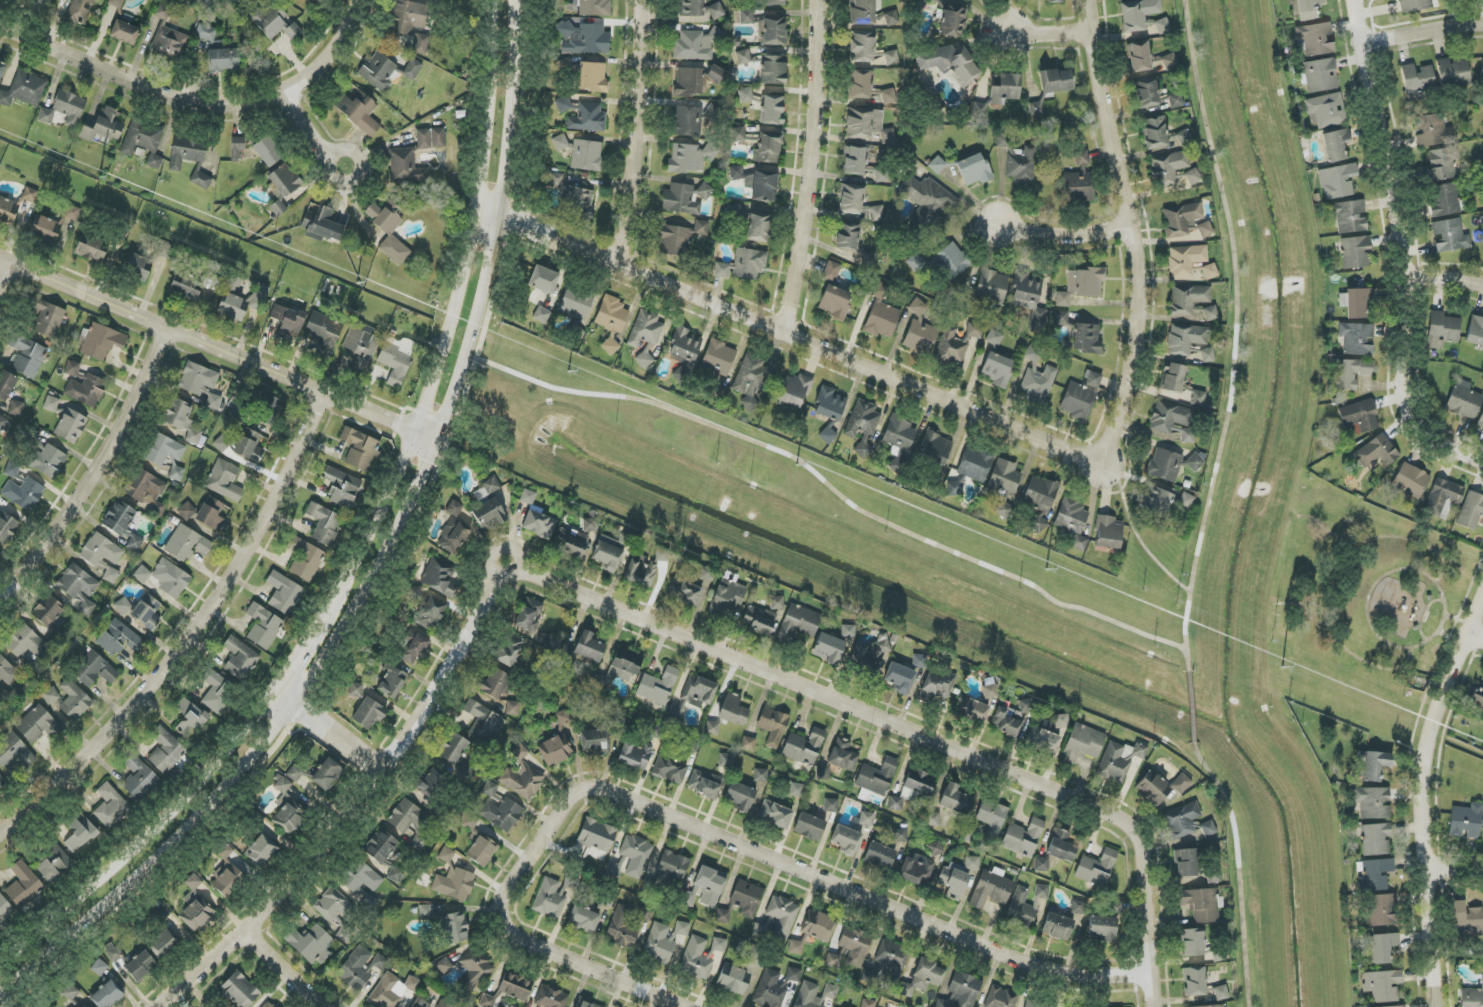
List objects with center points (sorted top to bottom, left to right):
building: (314, 0)
building: (936, 0)
building: (38, 1)
building: (205, 1)
building: (1055, 1)
building: (773, 2)
building: (116, 3)
building: (1416, 5)
building: (594, 7)
building: (691, 8)
building: (1309, 9)
building: (80, 11)
building: (716, 11)
building: (861, 12)
building: (1138, 14)
building: (409, 17)
building: (746, 17)
building: (953, 21)
building: (275, 22)
building: (1162, 26)
road: (1428, 27)
building: (774, 30)
building: (124, 32)
road: (1046, 32)
building: (206, 33)
building: (166, 36)
building: (582, 38)
building: (1314, 39)
building: (421, 44)
building: (697, 44)
building: (862, 46)
building: (1138, 56)
building: (743, 57)
building: (891, 57)
building: (224, 60)
building: (1169, 62)
building: (949, 63)
building: (2, 68)
building: (412, 69)
building: (773, 70)
building: (378, 71)
building: (1452, 72)
building: (715, 74)
building: (1320, 75)
building: (1481, 76)
building: (592, 77)
building: (1417, 78)
building: (1056, 81)
building: (689, 82)
building: (866, 88)
building: (1003, 88)
building: (24, 89)
building: (1146, 93)
building: (745, 95)
road: (196, 100)
building: (1175, 101)
building: (1041, 108)
building: (64, 109)
building: (771, 110)
building: (978, 111)
building: (1326, 111)
building: (359, 112)
building: (583, 115)
building: (687, 121)
building: (867, 126)
building: (103, 128)
road: (312, 130)
building: (1431, 130)
road: (633, 131)
building: (1155, 132)
building: (737, 134)
building: (430, 138)
building: (1183, 138)
building: (999, 139)
building: (143, 141)
building: (560, 143)
building: (1336, 145)
building: (236, 147)
building: (768, 147)
building: (267, 151)
building: (587, 155)
building: (189, 157)
building: (691, 157)
building: (1443, 162)
building: (861, 164)
road: (809, 165)
building: (937, 165)
building: (405, 166)
building: (1168, 168)
building: (973, 170)
building: (1193, 176)
building: (554, 180)
building: (1079, 181)
building: (1337, 181)
building: (757, 183)
building: (283, 186)
building: (30, 195)
building: (684, 198)
building: (1445, 200)
building: (927, 202)
building: (579, 203)
building: (856, 203)
building: (8, 210)
building: (734, 210)
building: (1349, 216)
building: (1185, 221)
building: (52, 224)
building: (321, 226)
building: (758, 227)
building: (388, 230)
road: (1130, 231)
road: (1062, 232)
building: (1449, 235)
building: (847, 236)
building: (679, 238)
building: (89, 248)
road: (1409, 249)
building: (165, 251)
building: (1355, 252)
building: (869, 258)
building: (951, 260)
building: (915, 262)
building: (1191, 263)
building: (743, 265)
building: (137, 267)
building: (831, 272)
road: (1447, 274)
building: (543, 280)
building: (1081, 285)
building: (185, 287)
building: (992, 290)
building: (1188, 299)
building: (1029, 300)
building: (834, 302)
building: (241, 303)
building: (576, 303)
building: (1356, 303)
building: (1210, 313)
building: (611, 314)
building: (542, 315)
building: (881, 318)
building: (1060, 318)
building: (48, 319)
building: (287, 320)
building: (919, 330)
building: (1442, 330)
building: (323, 331)
building: (973, 331)
building: (1475, 331)
building: (645, 334)
road: (1234, 334)
building: (994, 338)
building: (1086, 338)
building: (1357, 338)
road: (804, 339)
building: (1185, 339)
building: (360, 344)
building: (610, 345)
building: (950, 347)
road: (218, 352)
building: (683, 352)
building: (27, 355)
building: (1207, 355)
building: (718, 359)
building: (395, 364)
building: (72, 368)
building: (996, 369)
building: (1351, 373)
building: (197, 378)
building: (1173, 378)
building: (750, 379)
building: (1037, 379)
building: (6, 385)
building: (86, 390)
building: (794, 391)
building: (1080, 396)
building: (1198, 398)
building: (1464, 400)
building: (214, 401)
building: (51, 404)
building: (829, 404)
building: (266, 407)
building: (16, 408)
building: (1359, 415)
building: (1169, 417)
building: (181, 419)
building: (1481, 420)
building: (2, 424)
building: (862, 425)
building: (71, 426)
building: (1185, 433)
building: (827, 435)
building: (899, 442)
building: (221, 444)
building: (248, 446)
building: (935, 448)
building: (360, 449)
building: (163, 450)
building: (1377, 452)
building: (47, 460)
building: (1194, 462)
building: (975, 463)
road: (90, 464)
building: (1164, 465)
building: (12, 469)
building: (176, 473)
building: (224, 480)
building: (1411, 480)
building: (491, 485)
building: (1002, 485)
building: (342, 487)
building: (954, 488)
building: (146, 489)
road: (832, 489)
building: (24, 493)
building: (480, 494)
building: (528, 496)
building: (1442, 496)
building: (1040, 500)
building: (1185, 501)
building: (1155, 502)
building: (454, 508)
building: (186, 511)
building: (1470, 511)
building: (211, 513)
building: (488, 514)
building: (1073, 521)
building: (122, 523)
building: (324, 523)
building: (539, 524)
building: (589, 525)
building: (7, 527)
building: (1109, 533)
road: (1135, 535)
building: (453, 536)
building: (186, 544)
road: (366, 546)
building: (573, 546)
building: (610, 551)
building: (662, 554)
building: (103, 556)
building: (304, 558)
road: (384, 563)
building: (641, 571)
building: (707, 573)
road: (1422, 573)
building: (142, 574)
road: (1327, 574)
building: (440, 578)
building: (171, 579)
building: (77, 583)
building: (684, 592)
building: (284, 593)
park: (1370, 594)
building: (726, 598)
building: (777, 602)
building: (122, 606)
building: (86, 607)
building: (50, 612)
building: (146, 612)
building: (431, 614)
building: (529, 615)
road: (1460, 619)
building: (758, 620)
building: (798, 622)
building: (263, 626)
road: (183, 631)
building: (847, 632)
road: (1478, 633)
building: (118, 638)
road: (1452, 638)
building: (26, 642)
building: (412, 647)
building: (589, 647)
building: (827, 648)
building: (509, 650)
building: (239, 658)
building: (867, 659)
building: (919, 661)
building: (620, 668)
building: (95, 670)
building: (7, 671)
building: (899, 678)
building: (391, 682)
building: (493, 683)
building: (658, 686)
building: (936, 686)
building: (356, 690)
building: (698, 691)
building: (989, 691)
building: (218, 693)
building: (50, 696)
building: (1477, 697)
building: (74, 700)
building: (1025, 705)
road: (845, 707)
road: (1188, 707)
building: (512, 708)
building: (971, 709)
building: (733, 710)
building: (676, 711)
building: (369, 713)
building: (189, 719)
building: (1061, 721)
building: (1007, 722)
building: (483, 723)
building: (36, 724)
building: (773, 726)
building: (712, 727)
building: (658, 731)
road: (328, 733)
building: (1043, 740)
building: (593, 741)
building: (1083, 743)
building: (748, 744)
building: (691, 746)
building: (804, 747)
building: (453, 748)
building: (14, 751)
building: (166, 751)
building: (636, 755)
building: (843, 755)
building: (1119, 760)
building: (726, 761)
building: (1370, 765)
building: (669, 769)
building: (823, 773)
building: (318, 774)
building: (760, 775)
building: (522, 776)
building: (877, 777)
building: (139, 778)
building: (2, 781)
building: (430, 783)
building: (704, 784)
building: (917, 784)
building: (490, 789)
building: (1161, 789)
building: (796, 790)
building: (739, 796)
building: (954, 799)
road: (1433, 801)
building: (1373, 802)
road: (354, 803)
building: (895, 803)
building: (830, 805)
building: (110, 806)
building: (287, 808)
building: (502, 814)
building: (405, 815)
building: (775, 815)
building: (991, 816)
building: (866, 819)
building: (931, 819)
building: (1182, 820)
building: (1466, 821)
building: (809, 826)
building: (1208, 828)
building: (79, 832)
building: (596, 835)
building: (900, 835)
building: (1023, 837)
building: (1376, 839)
building: (845, 840)
building: (477, 841)
building: (418, 842)
building: (381, 846)
building: (1062, 846)
building: (935, 849)
building: (261, 851)
road: (524, 852)
building: (446, 855)
building: (636, 855)
building: (879, 856)
road: (1459, 861)
building: (972, 863)
building: (1186, 863)
building: (54, 864)
building: (1042, 864)
building: (673, 865)
building: (1097, 867)
building: (917, 870)
road: (1237, 870)
building: (227, 873)
building: (394, 874)
building: (1376, 874)
building: (361, 878)
building: (953, 882)
building: (23, 884)
building: (454, 884)
building: (709, 885)
building: (991, 888)
building: (1041, 891)
building: (690, 898)
building: (549, 899)
building: (745, 899)
building: (1202, 905)
building: (196, 906)
road: (875, 906)
building: (1078, 907)
building: (1021, 908)
building: (1115, 908)
building: (5, 909)
building: (1382, 910)
building: (336, 911)
building: (426, 911)
building: (722, 916)
building: (782, 916)
building: (1465, 917)
building: (583, 919)
building: (819, 926)
building: (1057, 926)
building: (456, 927)
building: (682, 928)
building: (1103, 928)
building: (759, 930)
road: (1145, 939)
building: (1192, 942)
building: (658, 943)
building: (162, 944)
building: (310, 944)
building: (718, 946)
building: (795, 947)
building: (1382, 947)
building: (850, 949)
building: (115, 954)
building: (892, 955)
building: (696, 959)
building: (140, 966)
building: (99, 967)
building: (361, 967)
road: (282, 968)
building: (468, 968)
building: (793, 974)
road: (599, 976)
building: (923, 978)
building: (1194, 981)
building: (1382, 985)
building: (771, 989)
building: (239, 990)
building: (392, 990)
building: (508, 990)
building: (70, 992)
building: (961, 992)
building: (1221, 993)
building: (816, 994)
building: (107, 995)
building: (550, 997)
building: (1471, 997)
building: (1001, 998)
building: (420, 1003)
building: (445, 1003)
building: (868, 1003)
building: (268, 1004)
building: (588, 1004)
building: (1035, 1004)
building: (82, 1005)
building: (1210, 1006)
building: (1395, 1006)

